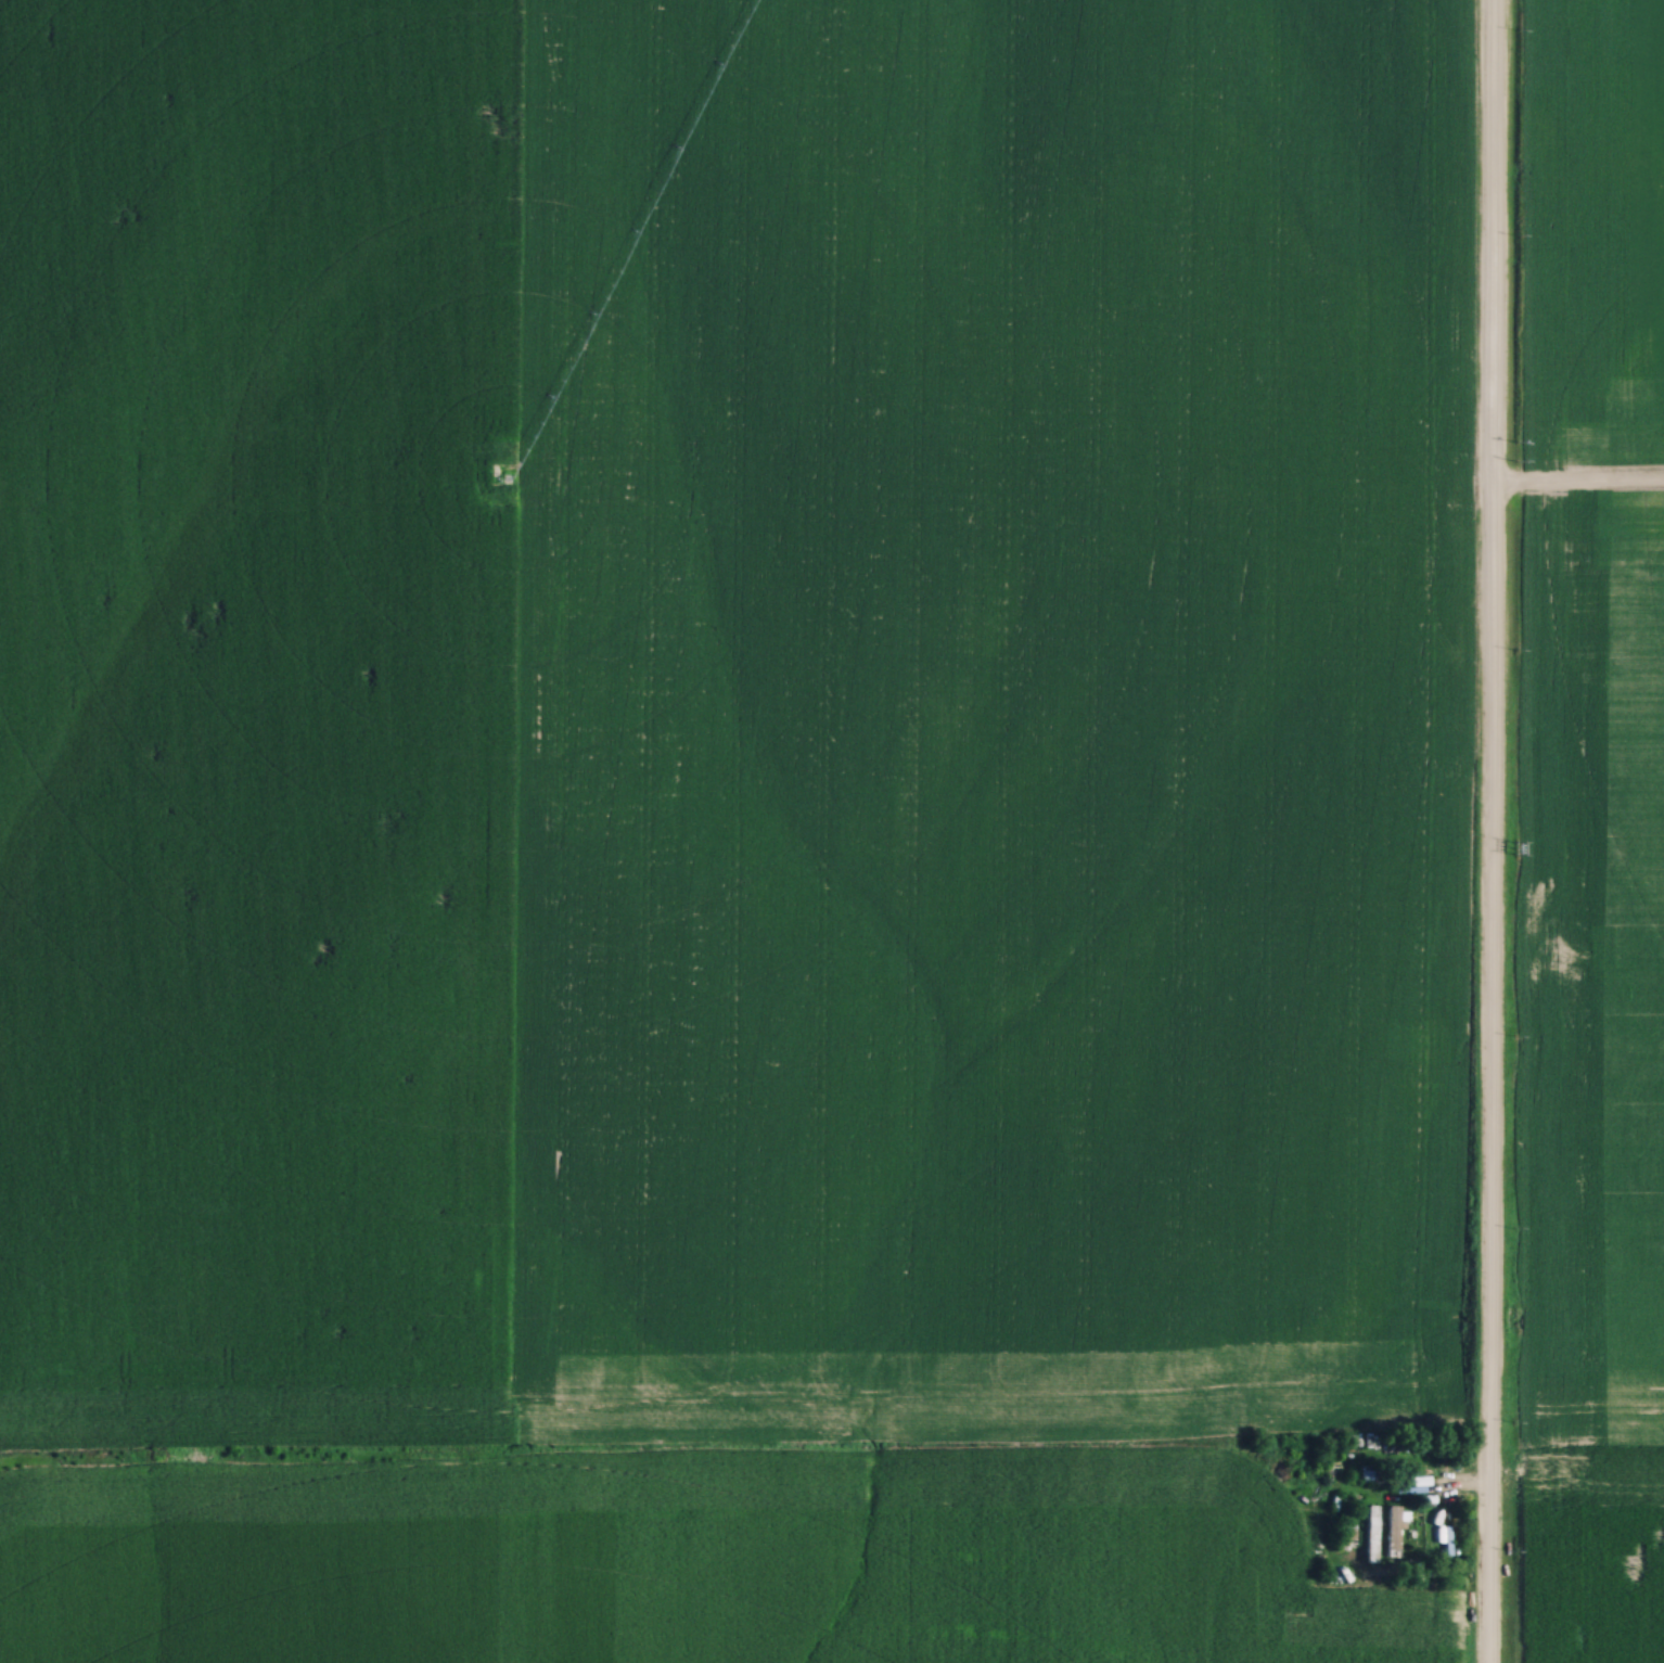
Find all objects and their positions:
road: (1578, 490)
road: (1492, 831)
building: (1375, 1531)
building: (1392, 1531)

